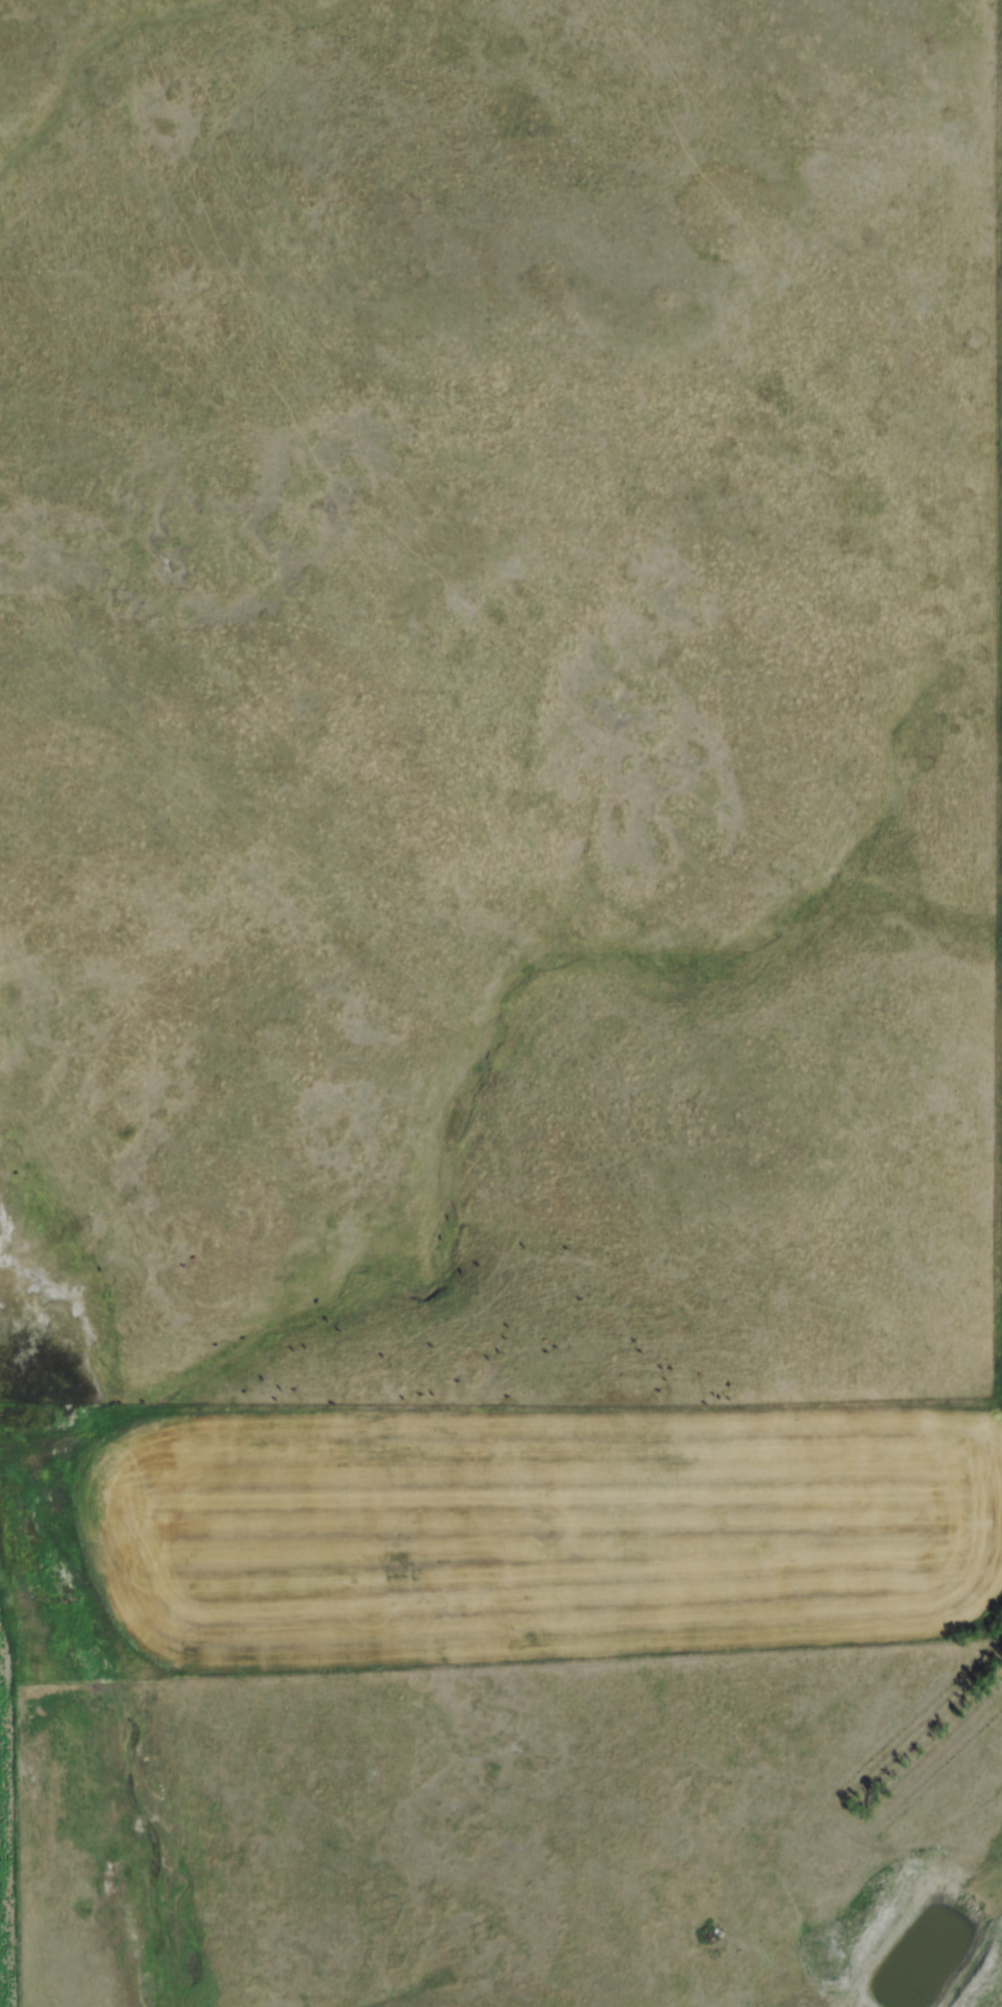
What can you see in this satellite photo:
road: (278, 836)
road: (987, 1406)

